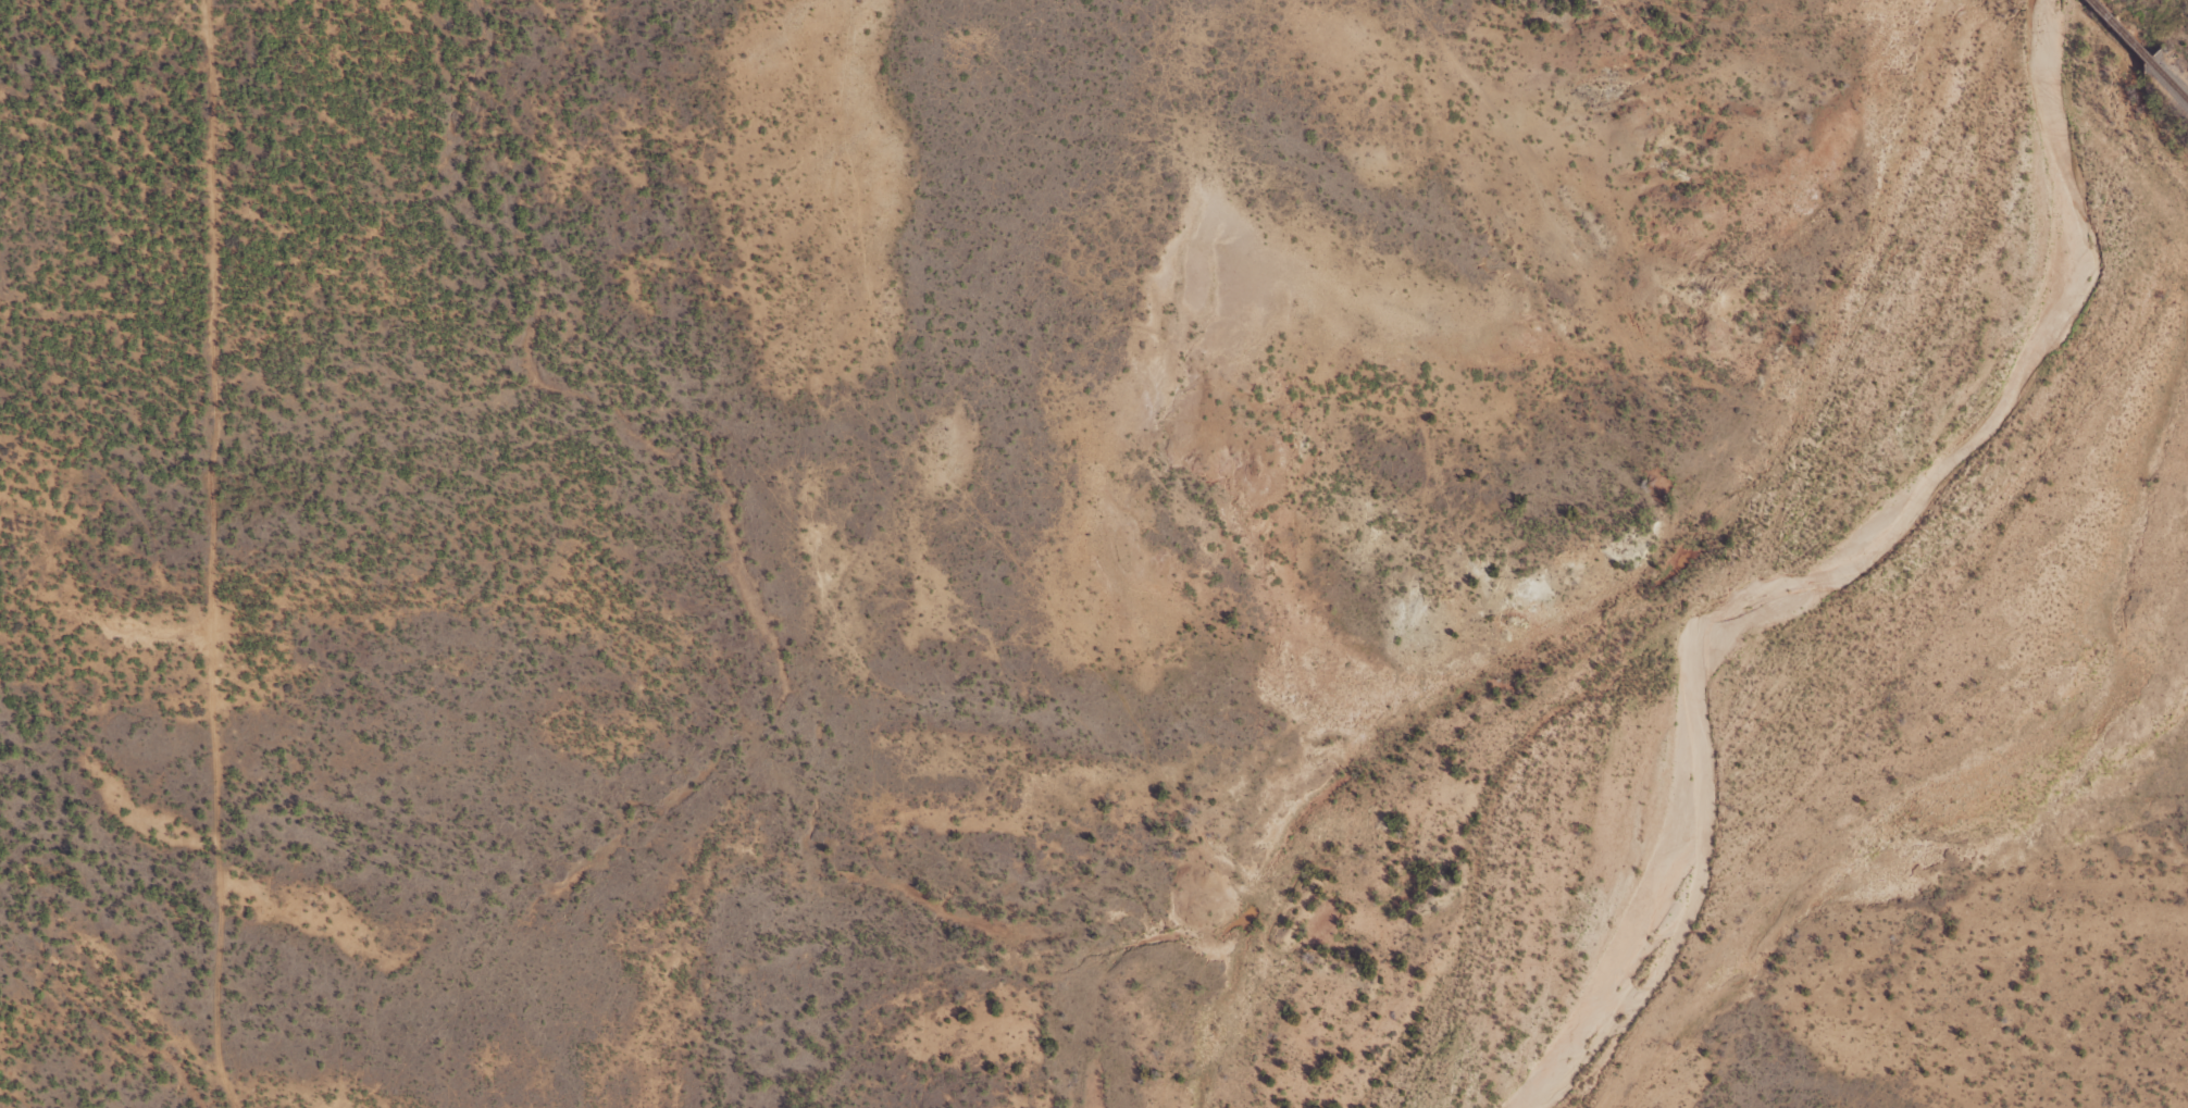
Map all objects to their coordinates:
railway: (2115, 30)
railway: (2166, 83)

